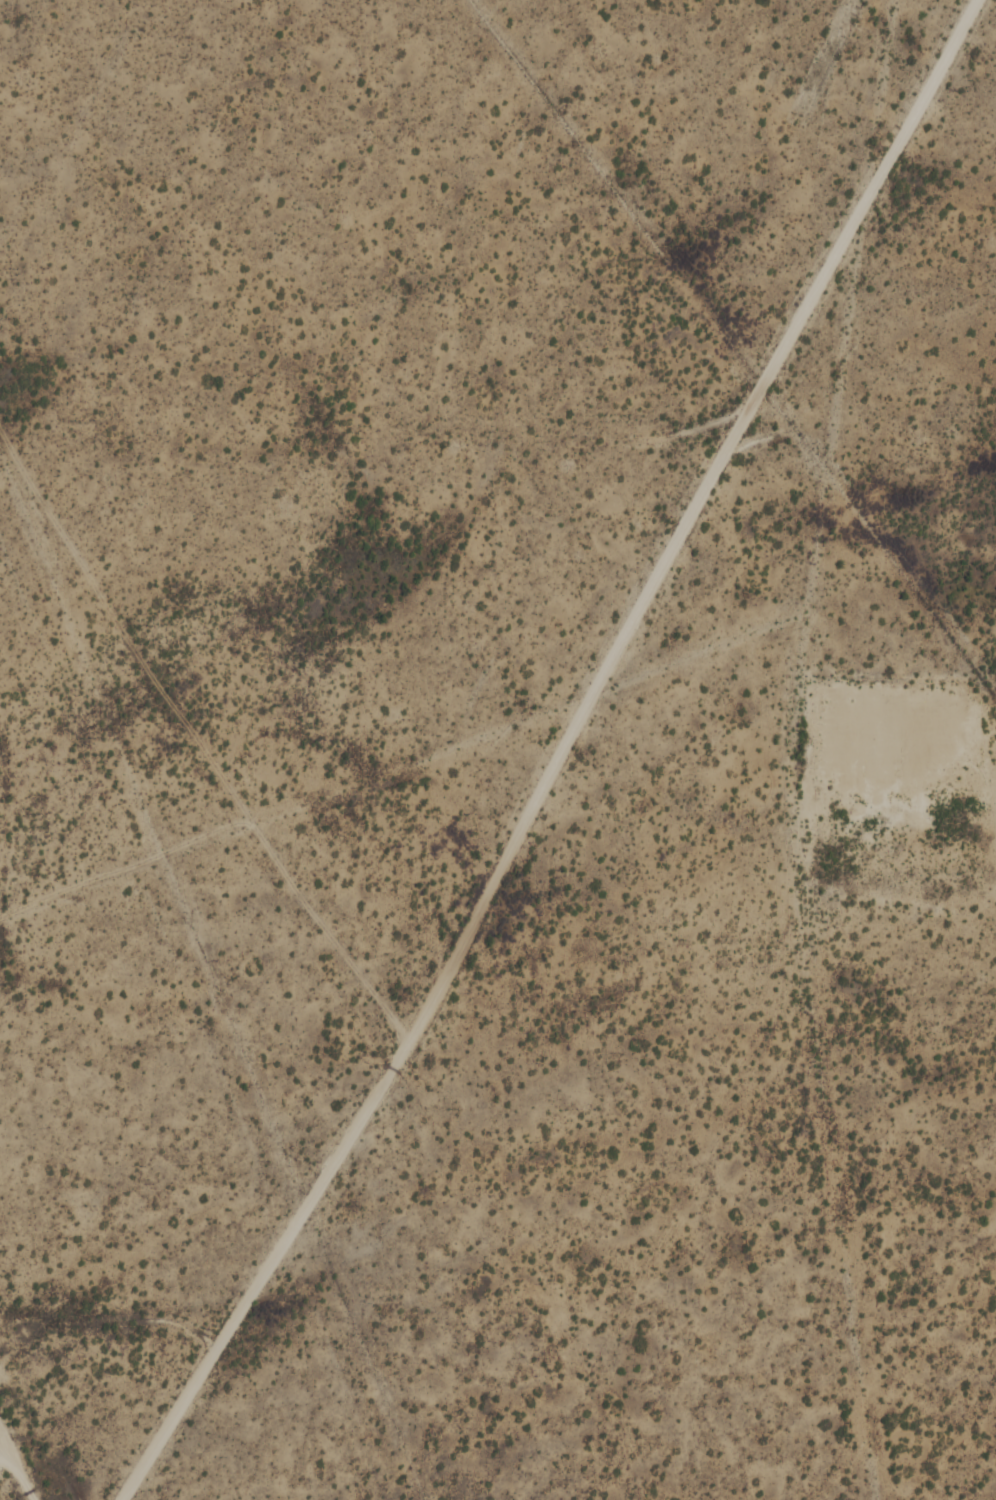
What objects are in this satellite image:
road: (199, 742)
road: (559, 756)
road: (928, 858)

